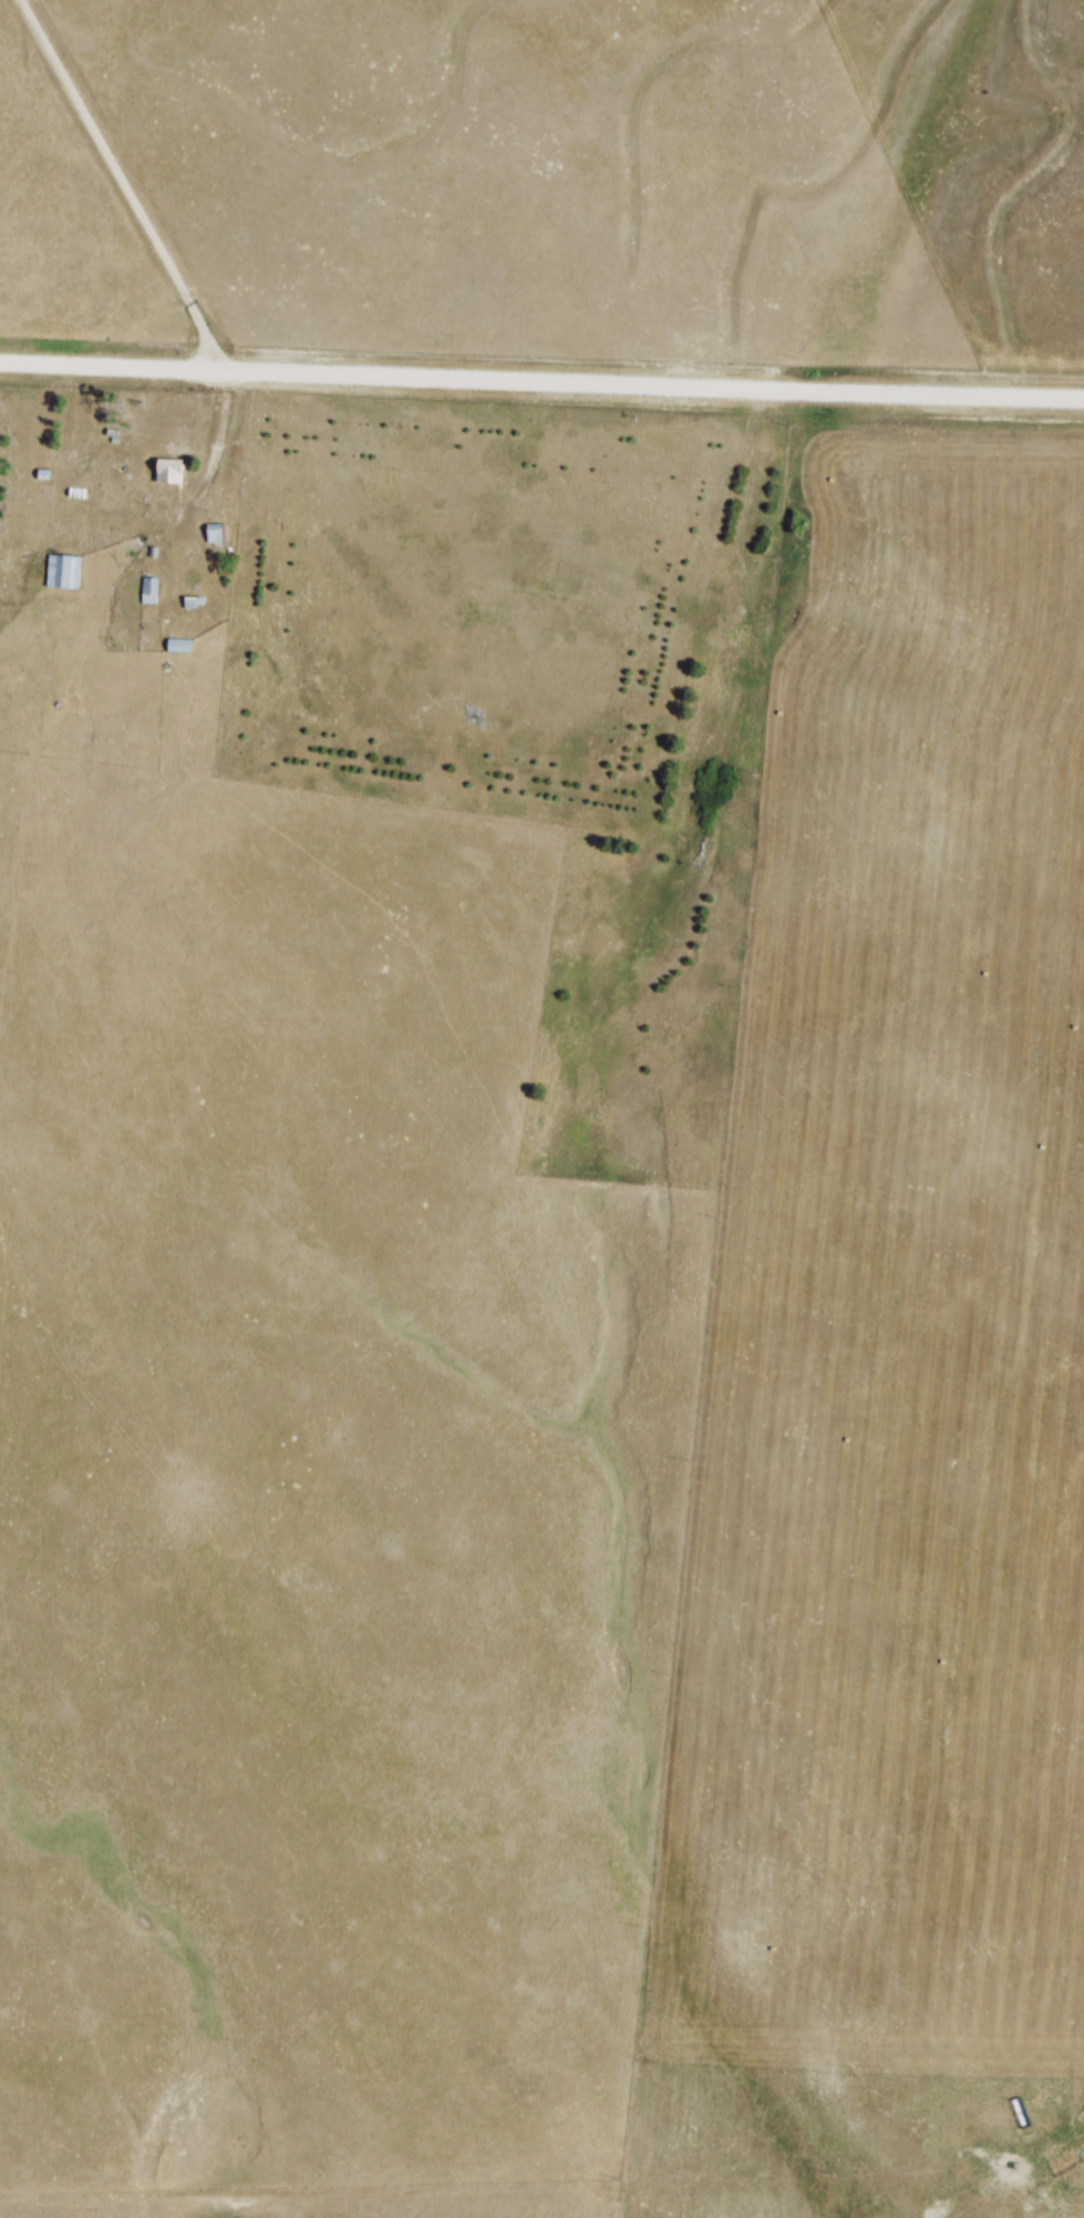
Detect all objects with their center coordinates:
road: (167, 256)
road: (541, 379)
building: (165, 472)
building: (213, 534)
building: (61, 572)
building: (146, 591)
building: (188, 603)
building: (176, 645)

